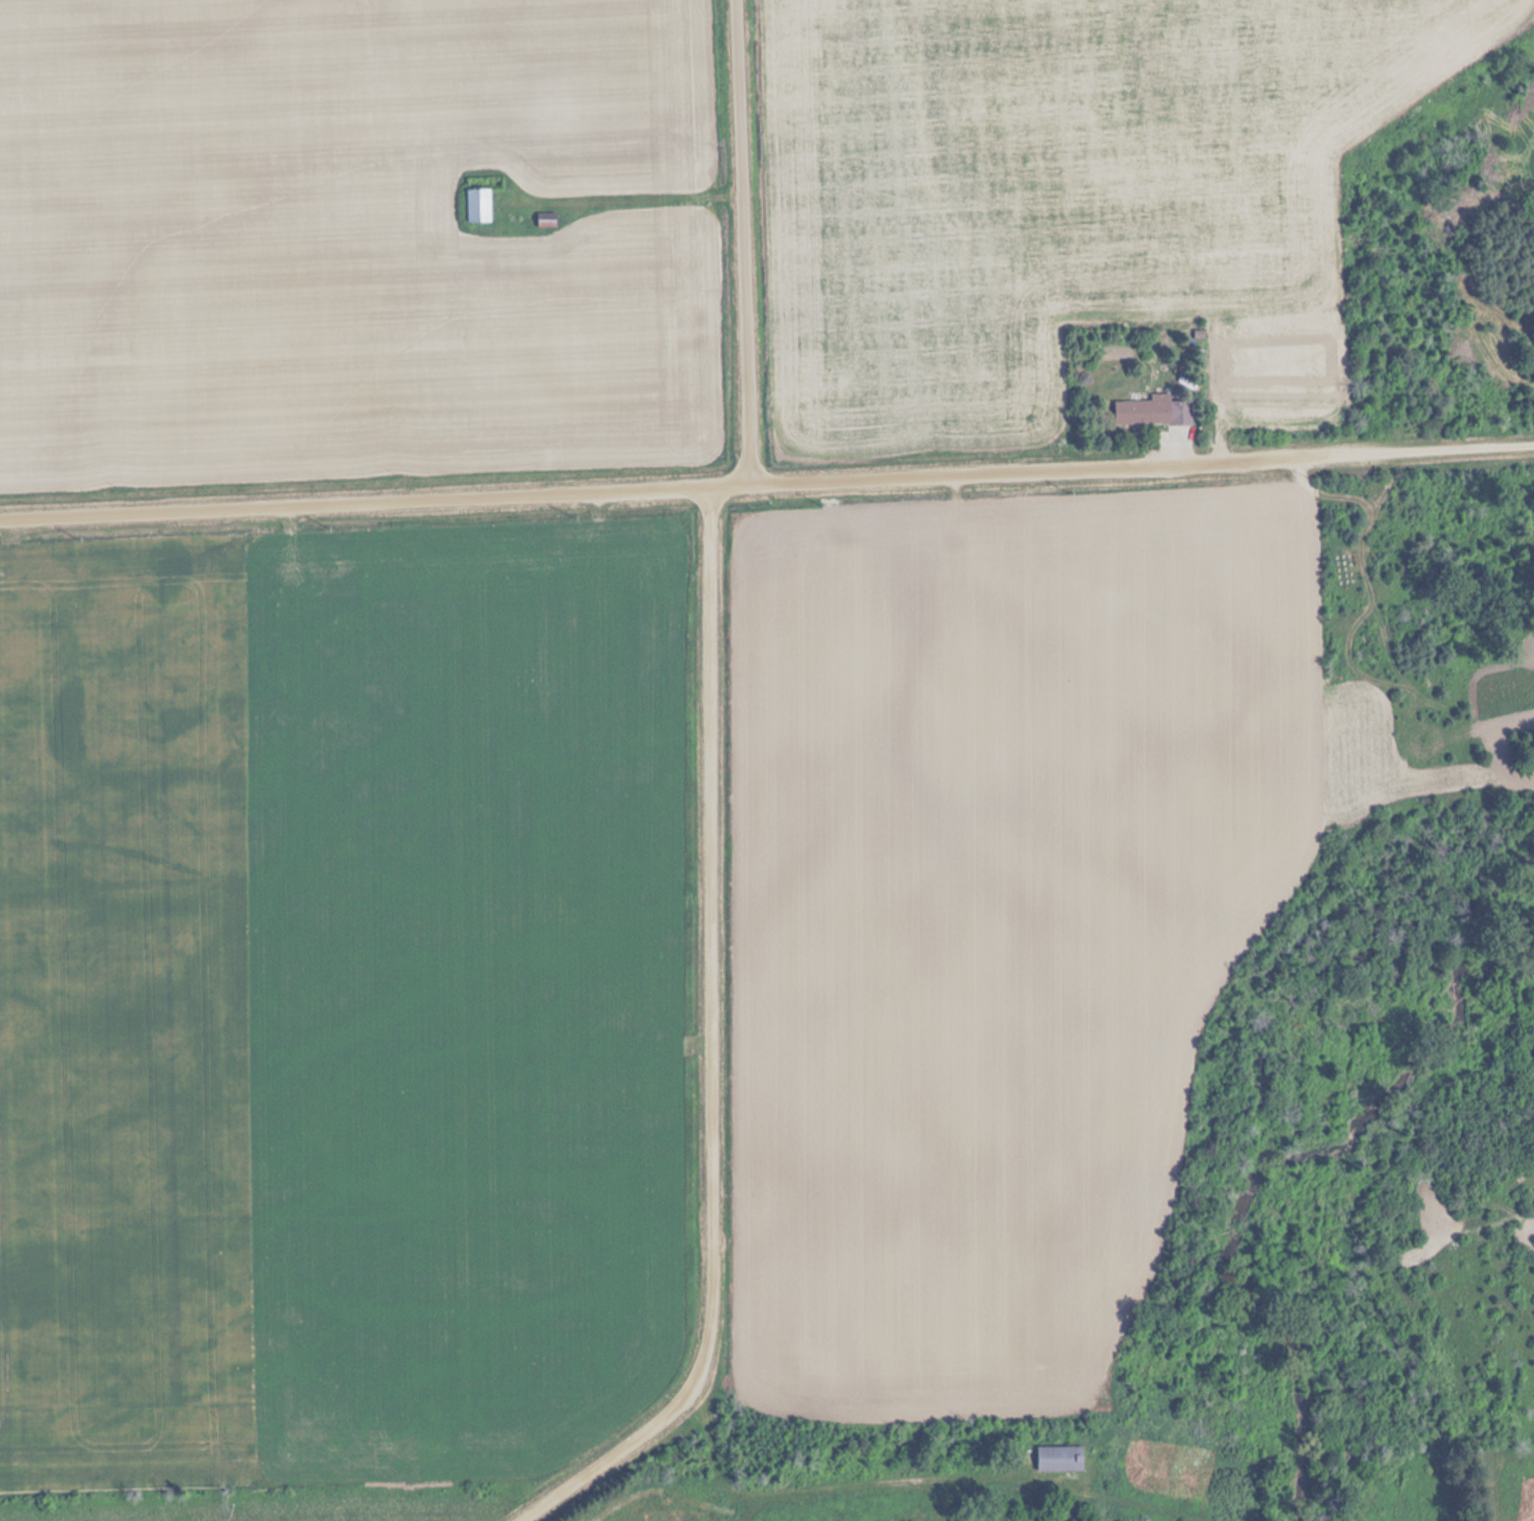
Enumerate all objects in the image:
crop: (1063, 198)
building: (475, 207)
building: (543, 220)
road: (734, 242)
crop: (358, 247)
building: (1149, 411)
road: (767, 484)
road: (705, 1050)
river: (1265, 1169)
building: (1056, 1458)
road: (872, 1485)

